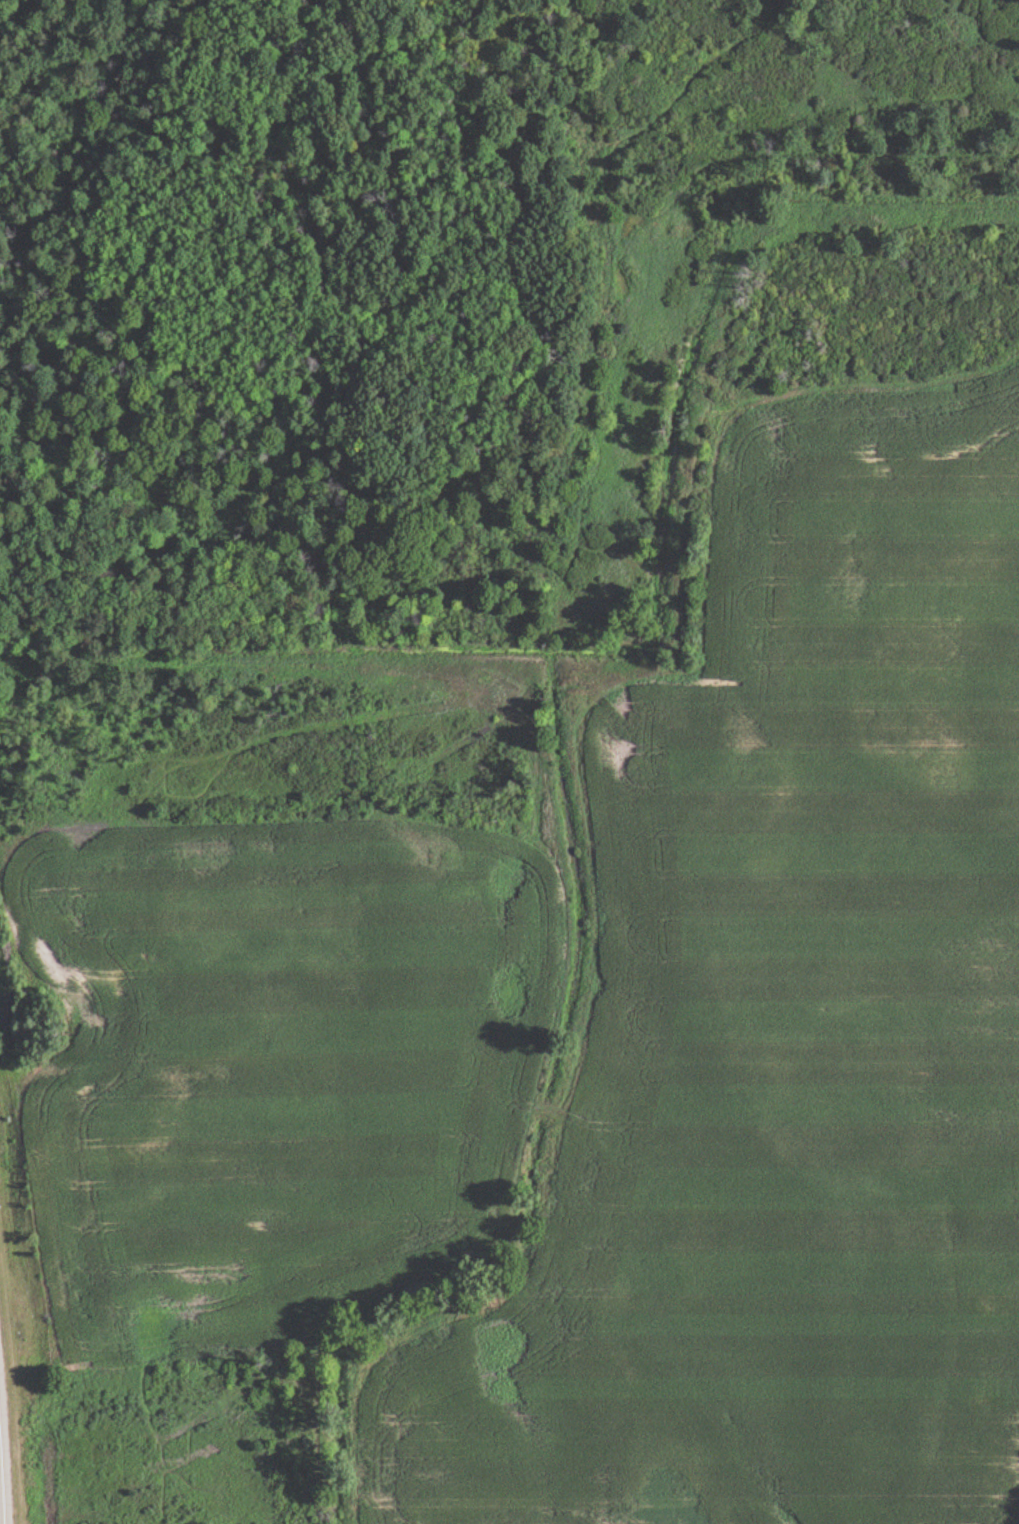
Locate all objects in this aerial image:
road: (0, 1510)

